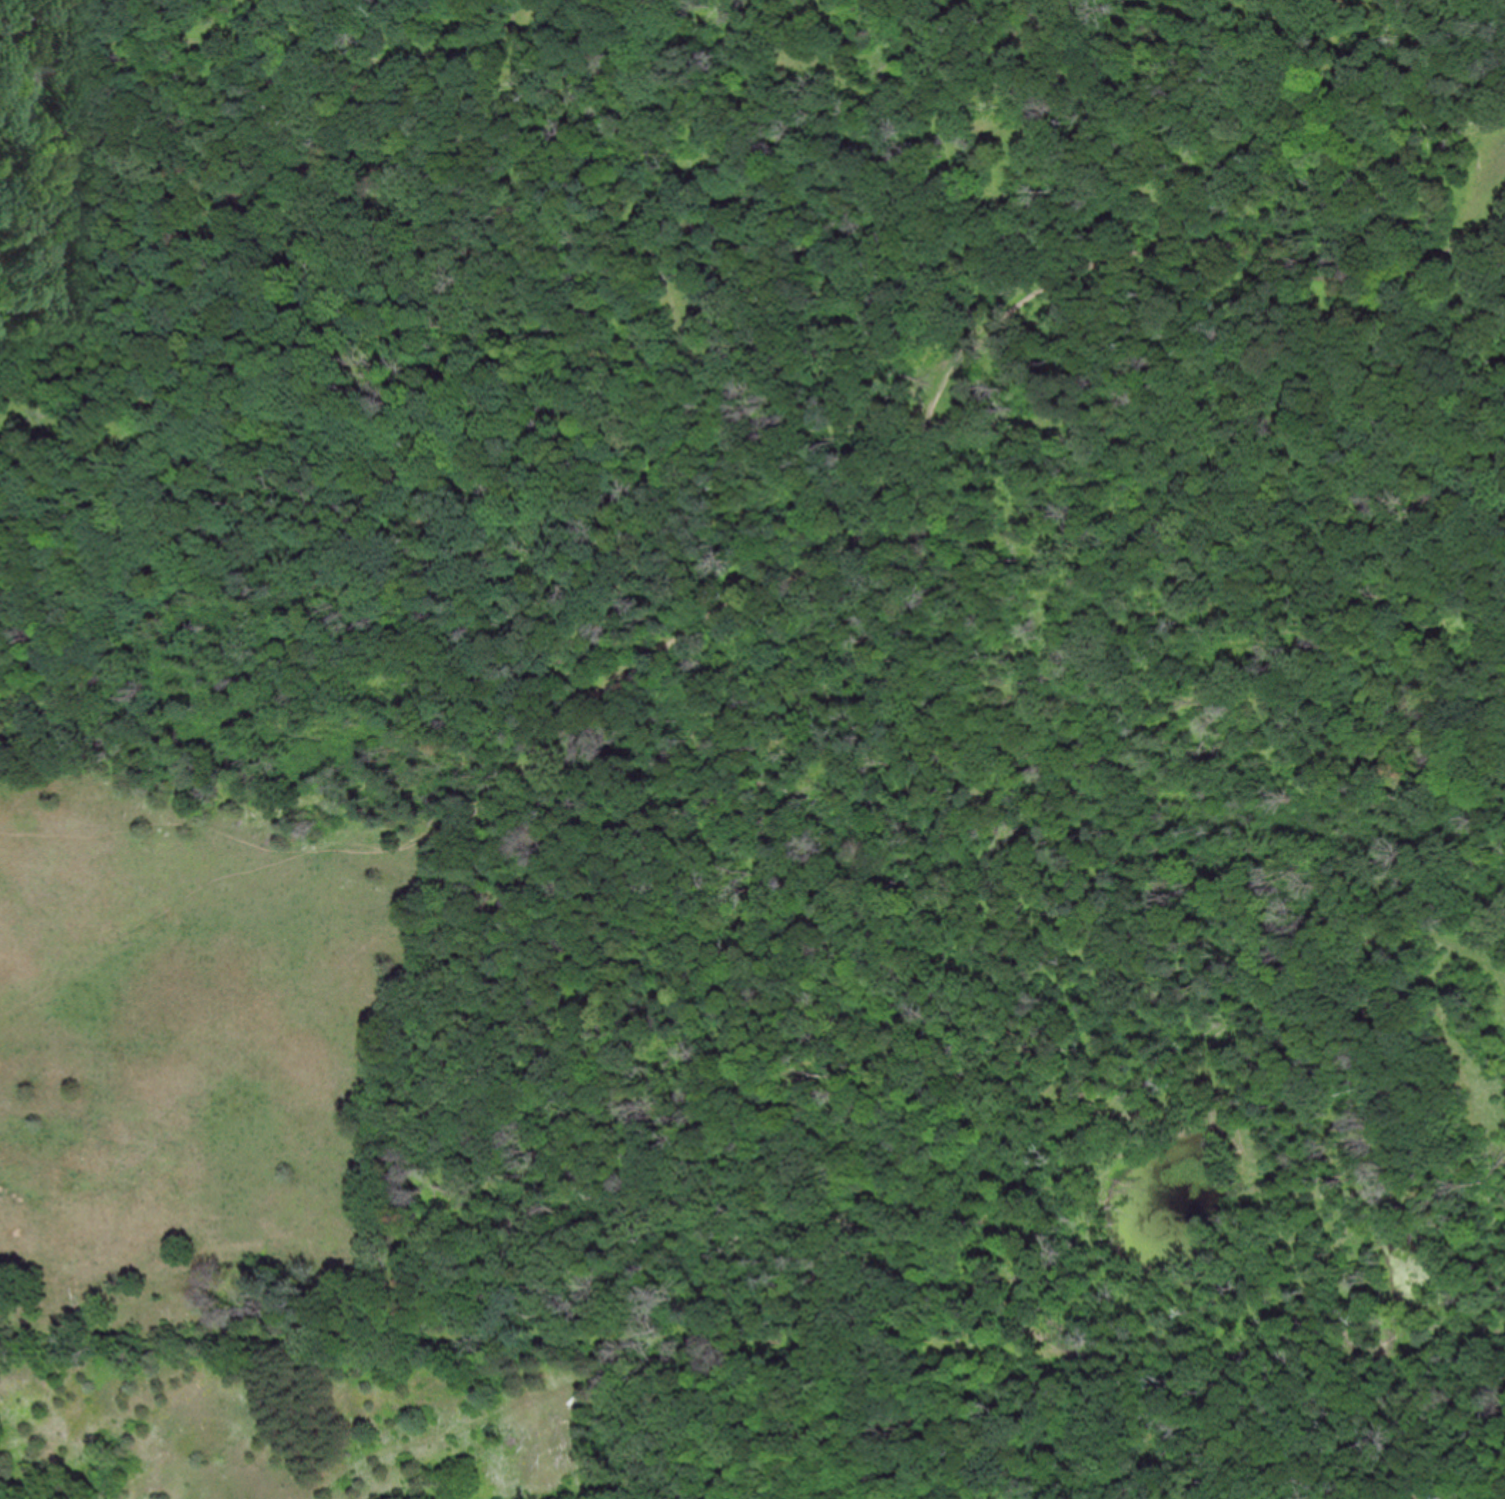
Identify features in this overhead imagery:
building: (1446, 1497)

